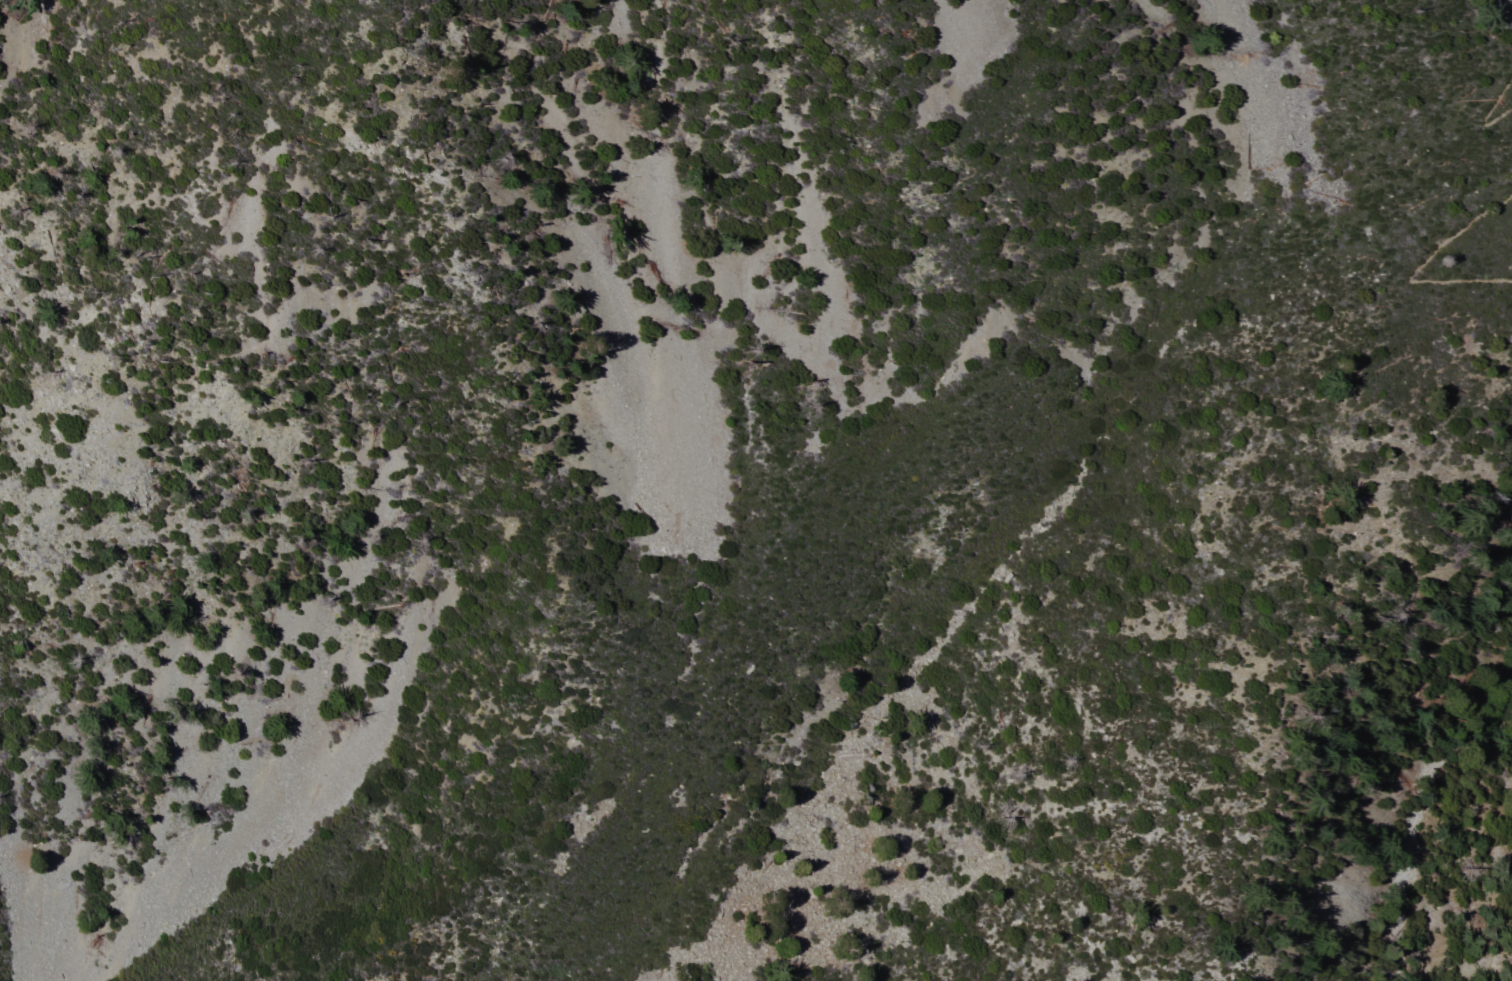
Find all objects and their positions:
road: (1485, 115)
road: (1423, 265)
road: (1485, 593)
road: (1494, 866)

